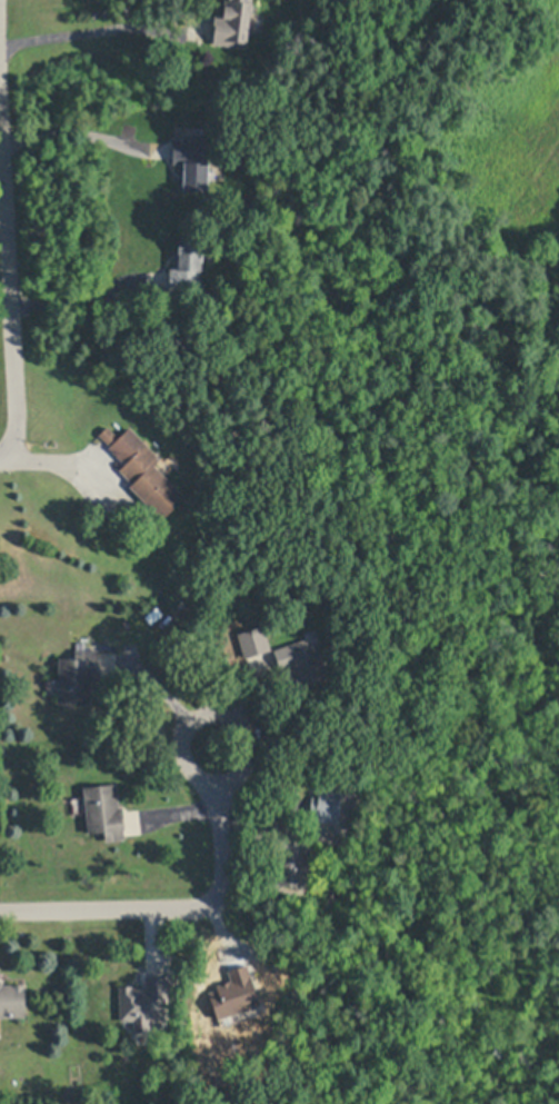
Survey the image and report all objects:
road: (0, 2)
building: (233, 21)
road: (96, 31)
building: (193, 162)
road: (11, 256)
building: (187, 263)
building: (142, 471)
building: (253, 641)
building: (301, 663)
building: (79, 678)
building: (326, 805)
building: (103, 809)
building: (290, 862)
road: (186, 908)
building: (148, 999)
building: (11, 1001)

